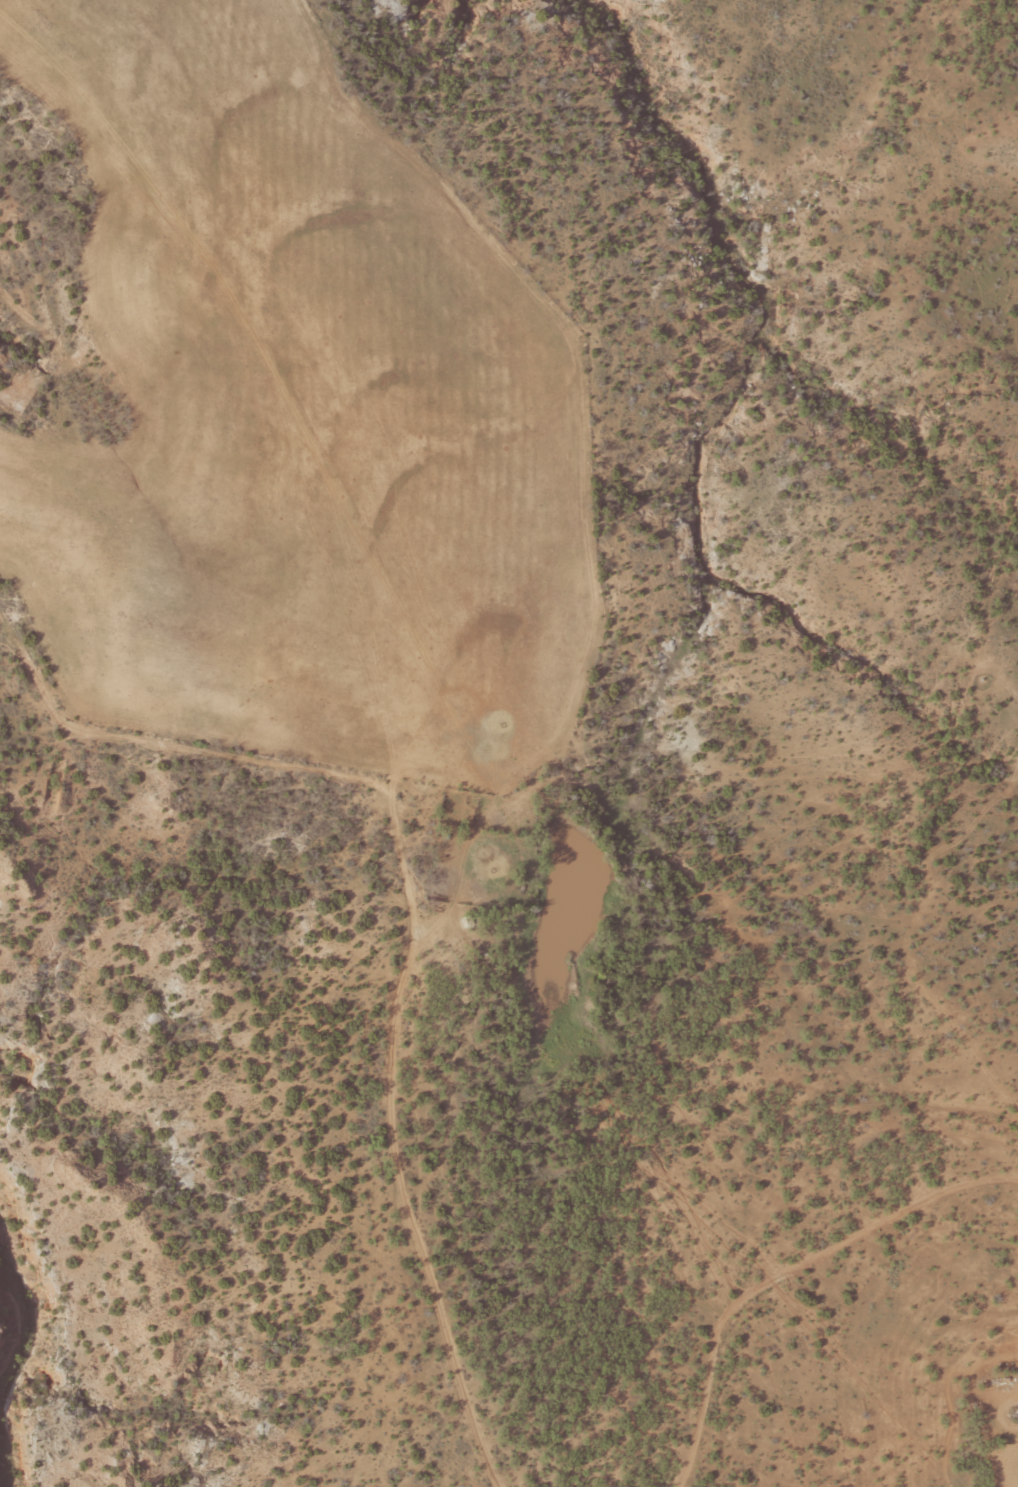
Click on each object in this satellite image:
road: (576, 639)

